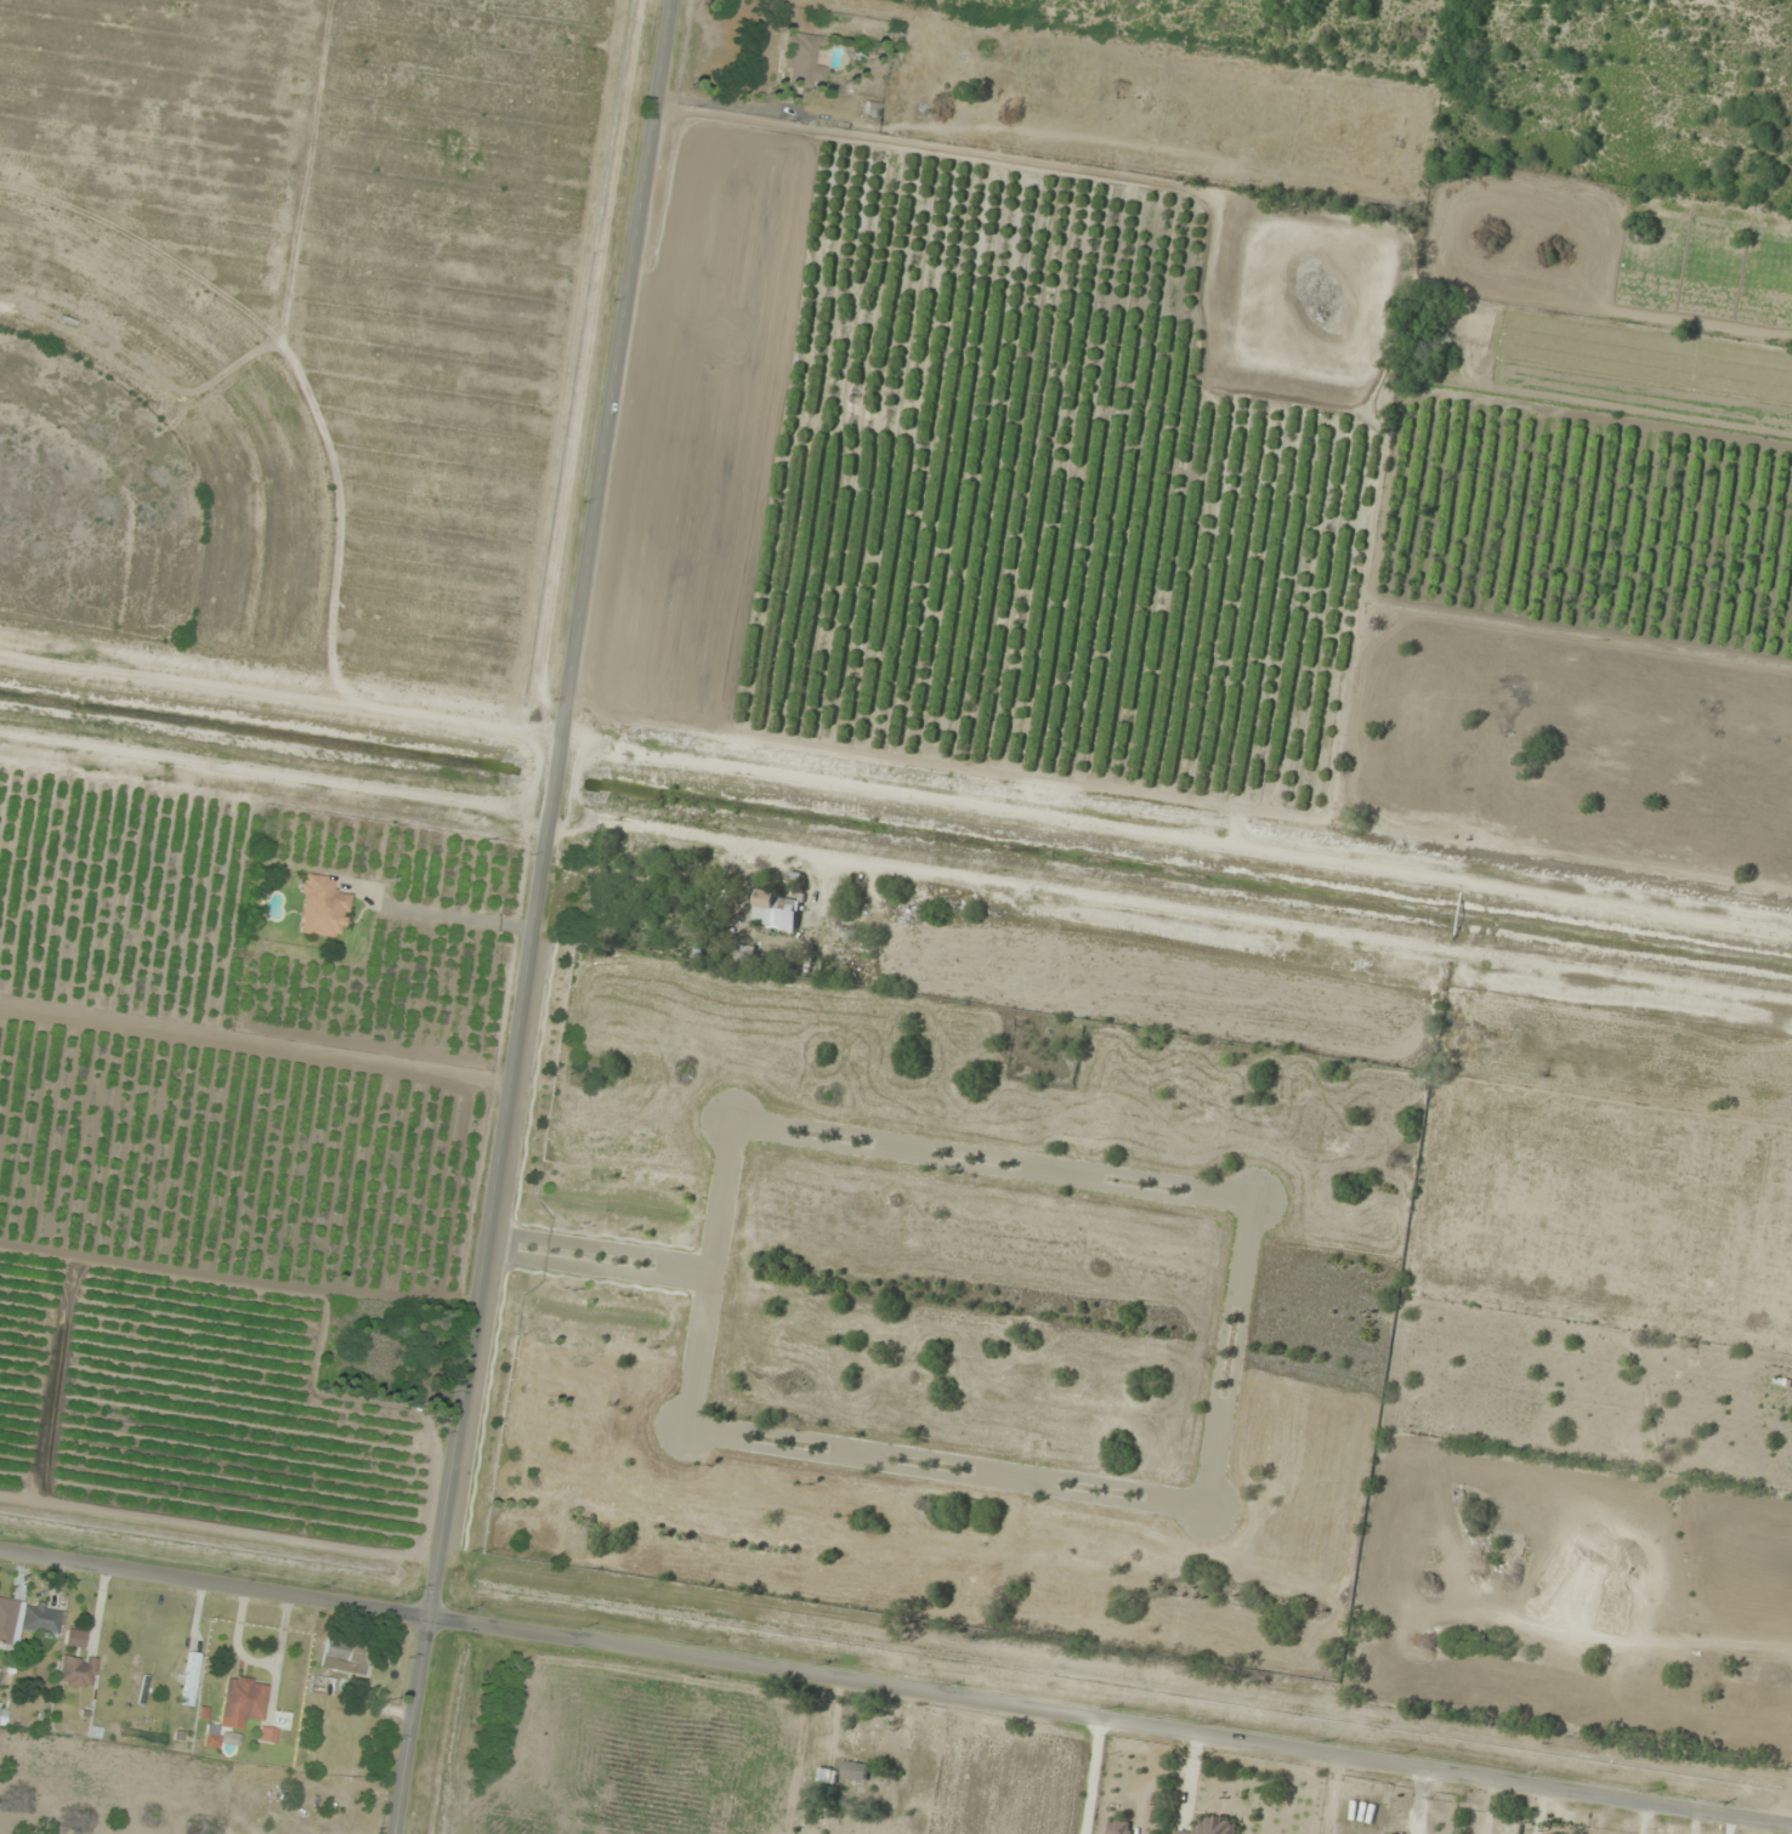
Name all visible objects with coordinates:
building: (804, 62)
building: (323, 908)
building: (776, 912)
road: (533, 916)
building: (741, 956)
building: (44, 1619)
building: (7, 1622)
building: (342, 1657)
building: (78, 1670)
building: (0, 1671)
building: (191, 1679)
road: (895, 1687)
building: (243, 1700)
building: (5, 1717)
building: (267, 1734)
building: (855, 1771)
building: (827, 1776)
road: (1490, 1807)
building: (1213, 1826)
building: (1118, 1827)

